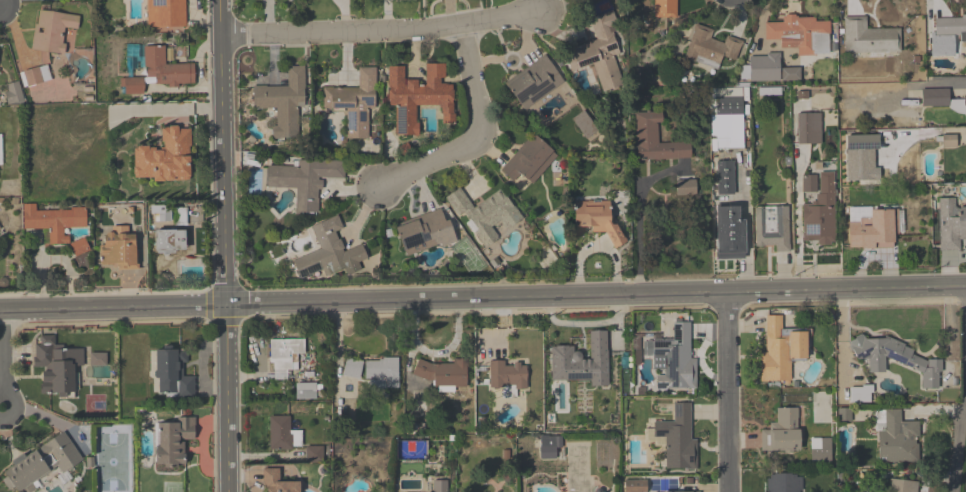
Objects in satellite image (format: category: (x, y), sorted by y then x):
building: (663, 7)
building: (166, 13)
road: (384, 31)
building: (55, 32)
building: (799, 33)
building: (946, 33)
building: (868, 36)
building: (712, 42)
building: (600, 49)
building: (763, 66)
building: (166, 67)
building: (790, 73)
building: (36, 76)
building: (533, 79)
road: (937, 85)
building: (132, 87)
building: (800, 93)
building: (13, 94)
building: (416, 95)
building: (934, 96)
building: (964, 101)
building: (282, 102)
building: (353, 102)
building: (725, 117)
building: (807, 127)
road: (480, 134)
building: (655, 138)
building: (948, 140)
building: (165, 156)
building: (860, 156)
building: (528, 160)
building: (723, 176)
building: (303, 179)
building: (819, 212)
building: (482, 213)
building: (596, 218)
road: (639, 222)
building: (950, 223)
building: (57, 224)
building: (771, 226)
building: (872, 229)
building: (425, 231)
building: (728, 231)
building: (170, 240)
road: (224, 245)
building: (119, 248)
building: (328, 251)
road: (482, 298)
road: (849, 303)
road: (948, 333)
road: (842, 344)
road: (337, 348)
building: (781, 350)
building: (284, 351)
building: (895, 358)
building: (675, 359)
building: (581, 362)
road: (3, 363)
building: (56, 365)
building: (352, 368)
building: (383, 371)
building: (443, 373)
building: (173, 374)
building: (508, 375)
building: (306, 392)
road: (727, 392)
building: (861, 394)
building: (279, 432)
building: (781, 432)
building: (896, 438)
building: (678, 440)
building: (174, 441)
building: (549, 446)
road: (958, 450)
building: (820, 451)
building: (314, 456)
building: (44, 464)
building: (278, 482)
building: (784, 482)
building: (440, 486)
building: (902, 486)
building: (596, 491)

